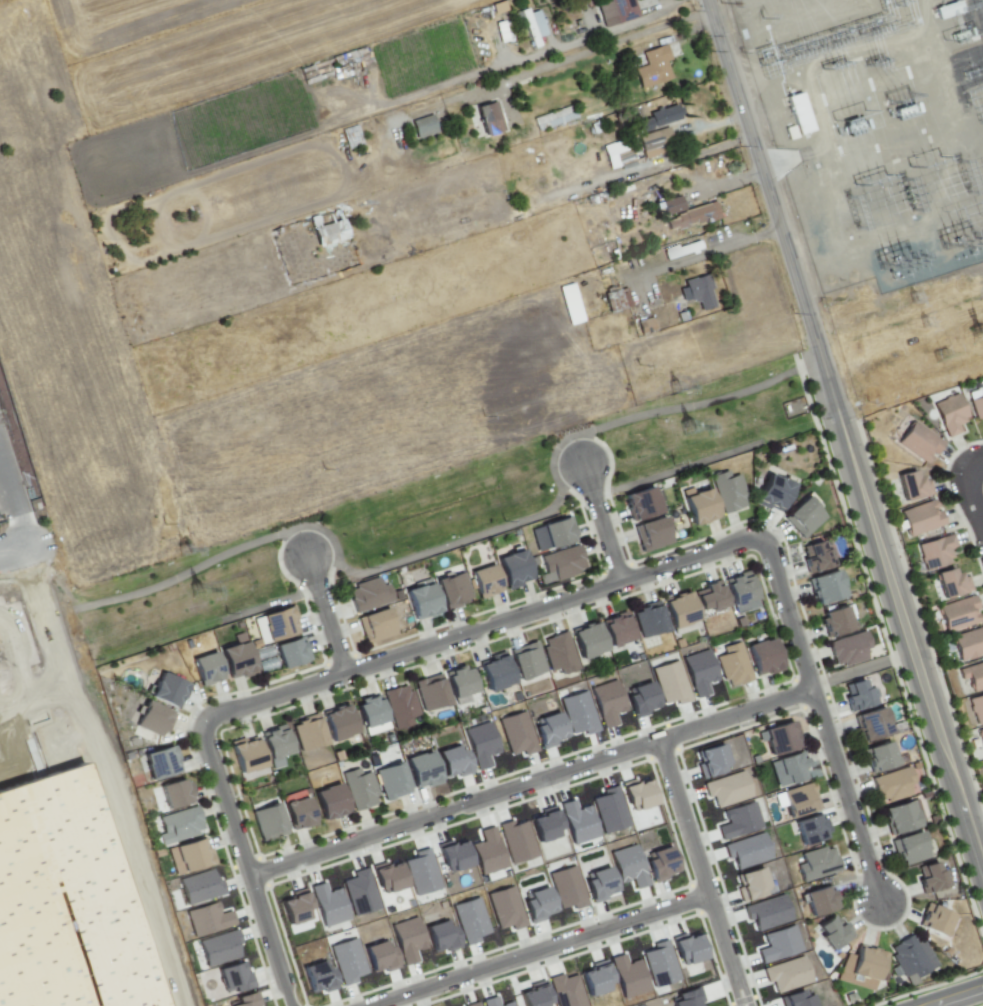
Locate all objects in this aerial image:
building: (946, 9)
building: (621, 10)
building: (531, 26)
road: (517, 58)
building: (653, 66)
building: (554, 117)
building: (659, 117)
building: (488, 118)
building: (423, 126)
building: (805, 126)
power substation: (874, 130)
building: (655, 142)
building: (618, 154)
road: (763, 171)
building: (669, 205)
building: (691, 217)
building: (329, 230)
road: (697, 253)
building: (697, 292)
power tower: (910, 298)
building: (615, 299)
building: (569, 303)
power tower: (919, 326)
power tower: (975, 341)
power tower: (943, 356)
road: (830, 382)
power tower: (672, 388)
building: (982, 390)
building: (977, 408)
building: (951, 414)
power tower: (686, 432)
building: (918, 442)
road: (974, 467)
building: (912, 487)
building: (728, 491)
building: (774, 492)
road: (974, 497)
building: (643, 503)
building: (701, 506)
road: (15, 517)
building: (802, 518)
building: (921, 519)
road: (598, 521)
building: (559, 532)
building: (654, 535)
building: (937, 552)
power tower: (177, 554)
road: (11, 555)
building: (815, 559)
building: (563, 563)
building: (515, 568)
building: (486, 581)
building: (951, 585)
building: (825, 588)
building: (453, 589)
building: (739, 590)
building: (369, 594)
power tower: (192, 598)
building: (709, 599)
building: (423, 601)
building: (678, 612)
road: (324, 614)
building: (959, 614)
building: (835, 622)
building: (280, 623)
building: (647, 623)
building: (377, 625)
road: (471, 627)
building: (615, 631)
building: (586, 642)
road: (912, 642)
building: (968, 644)
building: (848, 650)
building: (291, 653)
building: (557, 654)
building: (237, 658)
building: (764, 658)
building: (525, 663)
building: (733, 665)
building: (208, 668)
building: (698, 671)
building: (492, 676)
building: (973, 676)
building: (670, 682)
building: (457, 684)
building: (167, 689)
building: (430, 691)
building: (859, 695)
building: (640, 698)
building: (606, 702)
building: (400, 706)
building: (977, 709)
building: (371, 710)
building: (578, 713)
building: (153, 718)
road: (815, 718)
building: (339, 723)
building: (871, 726)
building: (548, 729)
building: (309, 733)
building: (516, 733)
building: (981, 735)
building: (780, 740)
building: (480, 743)
building: (276, 747)
building: (248, 756)
building: (880, 757)
building: (710, 759)
building: (453, 761)
building: (160, 763)
building: (421, 770)
building: (791, 770)
building: (391, 781)
road: (526, 782)
building: (893, 783)
building: (359, 788)
building: (725, 788)
building: (176, 794)
building: (636, 794)
building: (330, 801)
building: (800, 801)
building: (608, 810)
building: (299, 812)
building: (899, 819)
building: (738, 820)
building: (268, 822)
building: (577, 822)
building: (181, 824)
building: (544, 824)
building: (808, 832)
building: (516, 841)
building: (911, 847)
building: (746, 850)
building: (486, 851)
building: (453, 854)
building: (190, 857)
building: (659, 863)
building: (817, 865)
road: (243, 866)
building: (627, 866)
building: (421, 872)
road: (701, 872)
building: (387, 876)
building: (932, 879)
building: (598, 884)
building: (749, 884)
building: (199, 886)
building: (566, 887)
building: (359, 892)
building: (61, 902)
building: (819, 903)
building: (327, 904)
building: (536, 904)
building: (295, 906)
building: (504, 908)
building: (766, 911)
building: (207, 919)
building: (469, 920)
building: (934, 923)
building: (833, 933)
building: (441, 936)
building: (407, 939)
building: (778, 944)
building: (219, 947)
building: (686, 947)
road: (540, 951)
building: (910, 956)
building: (379, 957)
building: (347, 960)
building: (659, 964)
building: (859, 967)
building: (786, 973)
building: (318, 976)
building: (627, 976)
building: (232, 977)
building: (595, 978)
building: (565, 990)
building: (533, 995)
road: (951, 997)
building: (685, 998)
building: (796, 999)
building: (242, 1000)
building: (493, 1002)
building: (472, 1004)

